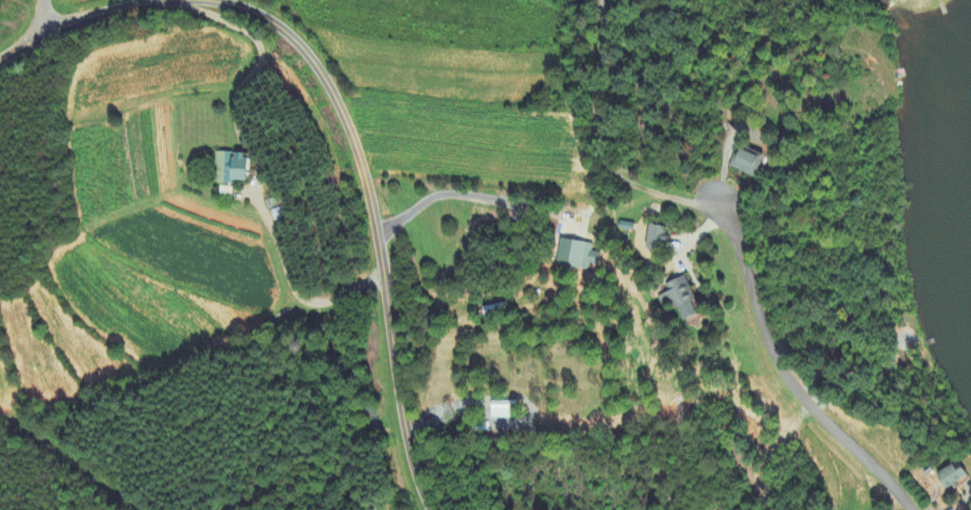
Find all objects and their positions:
road: (40, 11)
road: (93, 11)
road: (19, 39)
road: (598, 145)
building: (745, 162)
building: (226, 168)
road: (243, 172)
road: (469, 198)
road: (370, 225)
building: (623, 227)
building: (653, 238)
building: (571, 256)
building: (677, 299)
road: (779, 379)
building: (502, 410)
building: (950, 477)

